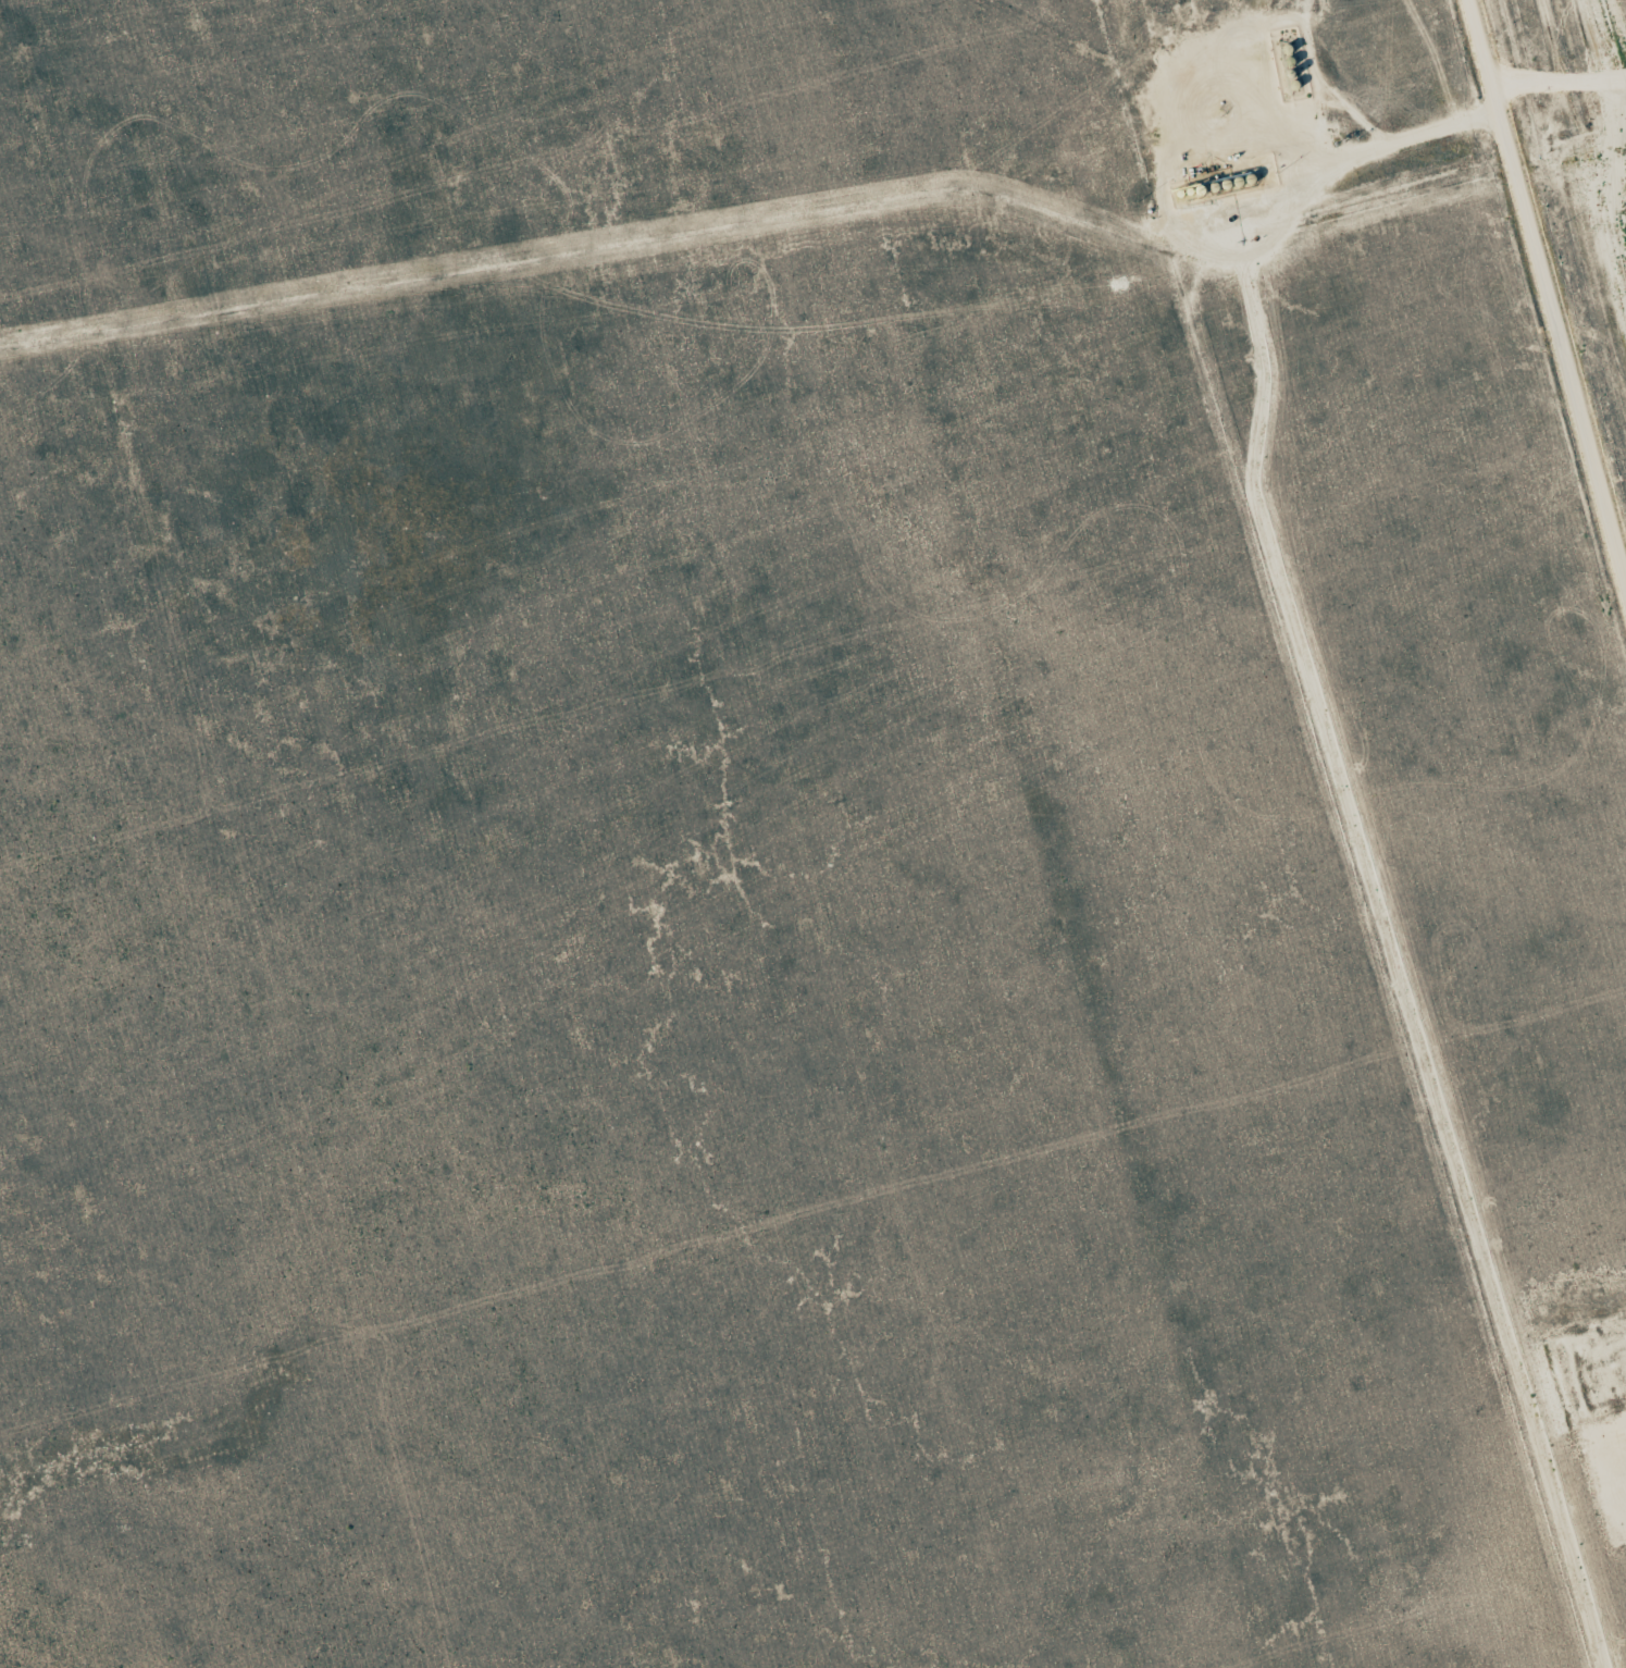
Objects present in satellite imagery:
road: (1549, 280)

